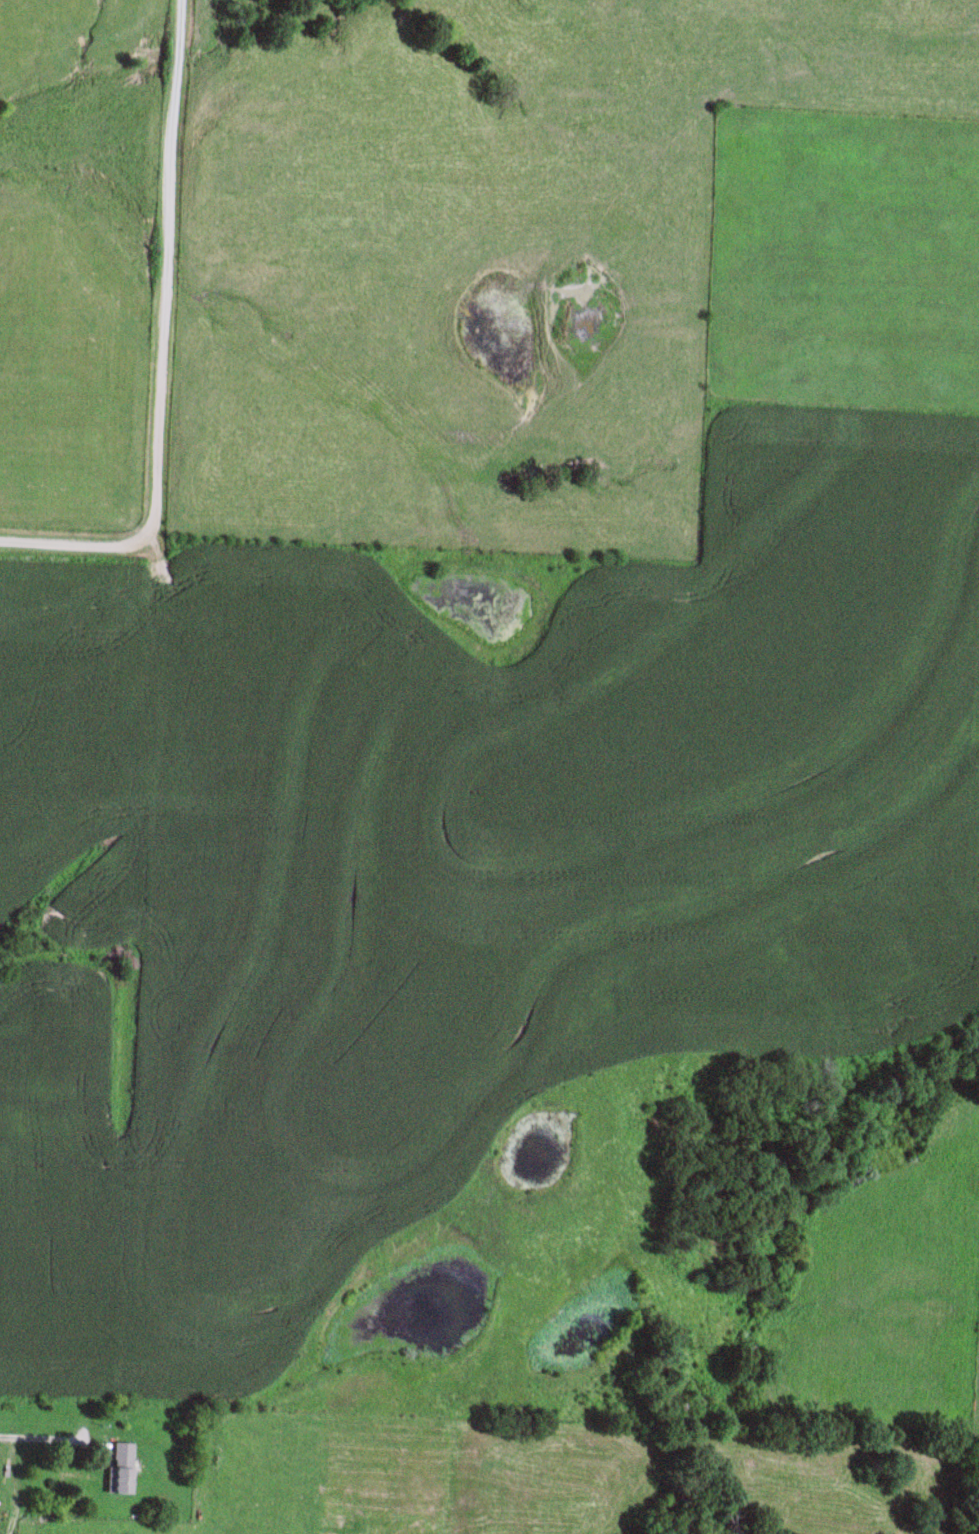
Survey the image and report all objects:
road: (161, 343)
road: (233, 623)
road: (41, 1440)
building: (120, 1469)

